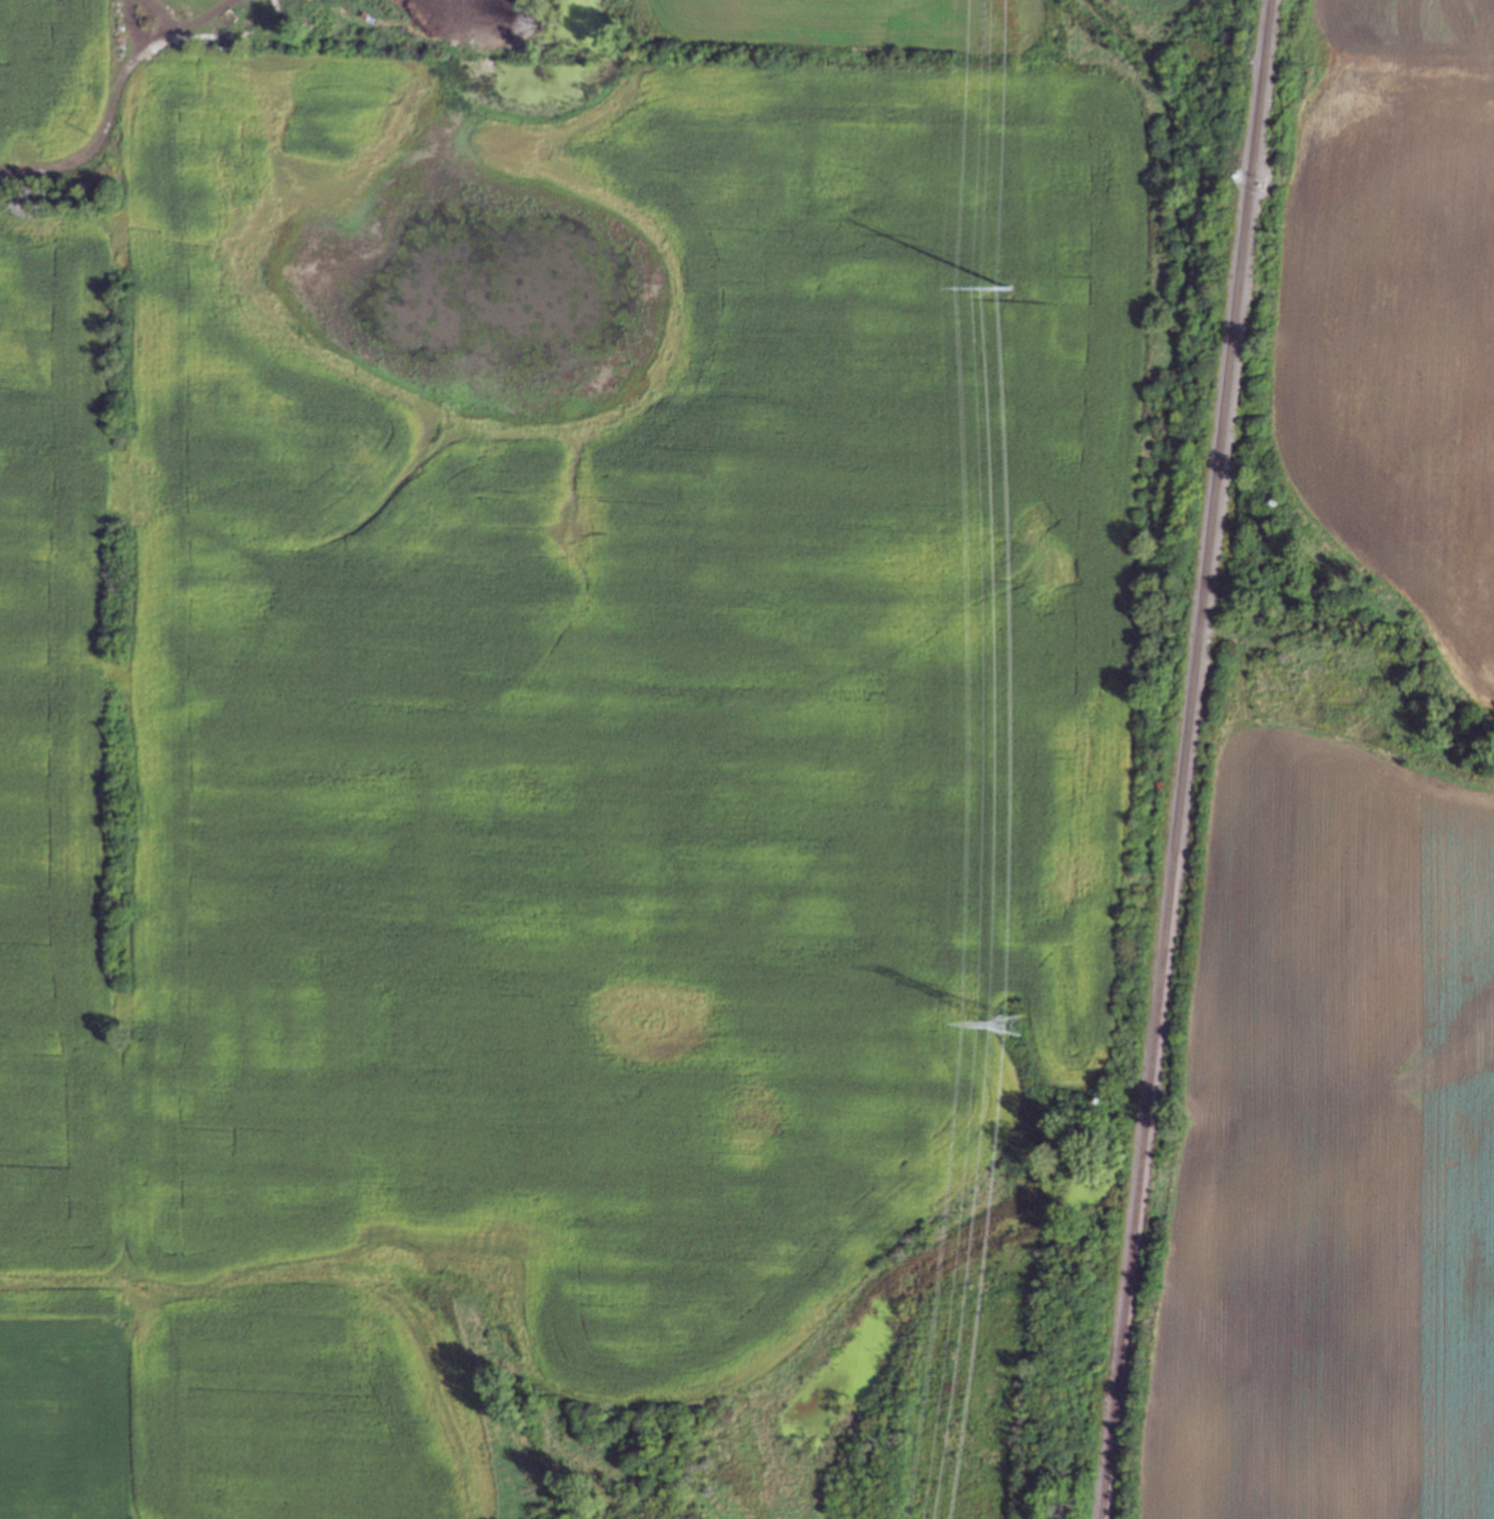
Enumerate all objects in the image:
power tower: (1012, 314)
railway: (1183, 759)
crop: (1348, 837)
power tower: (1012, 1023)

